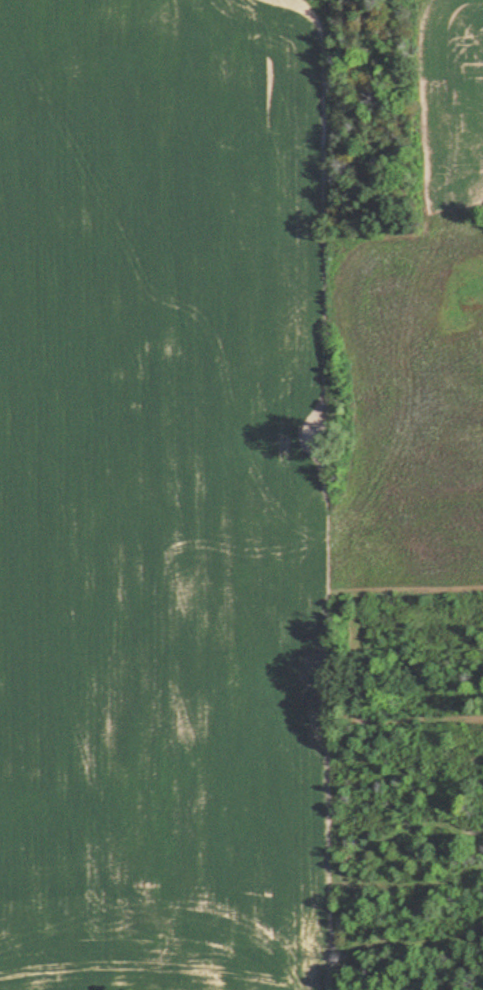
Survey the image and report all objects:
crop: (451, 98)
crop: (405, 413)
crop: (164, 497)

